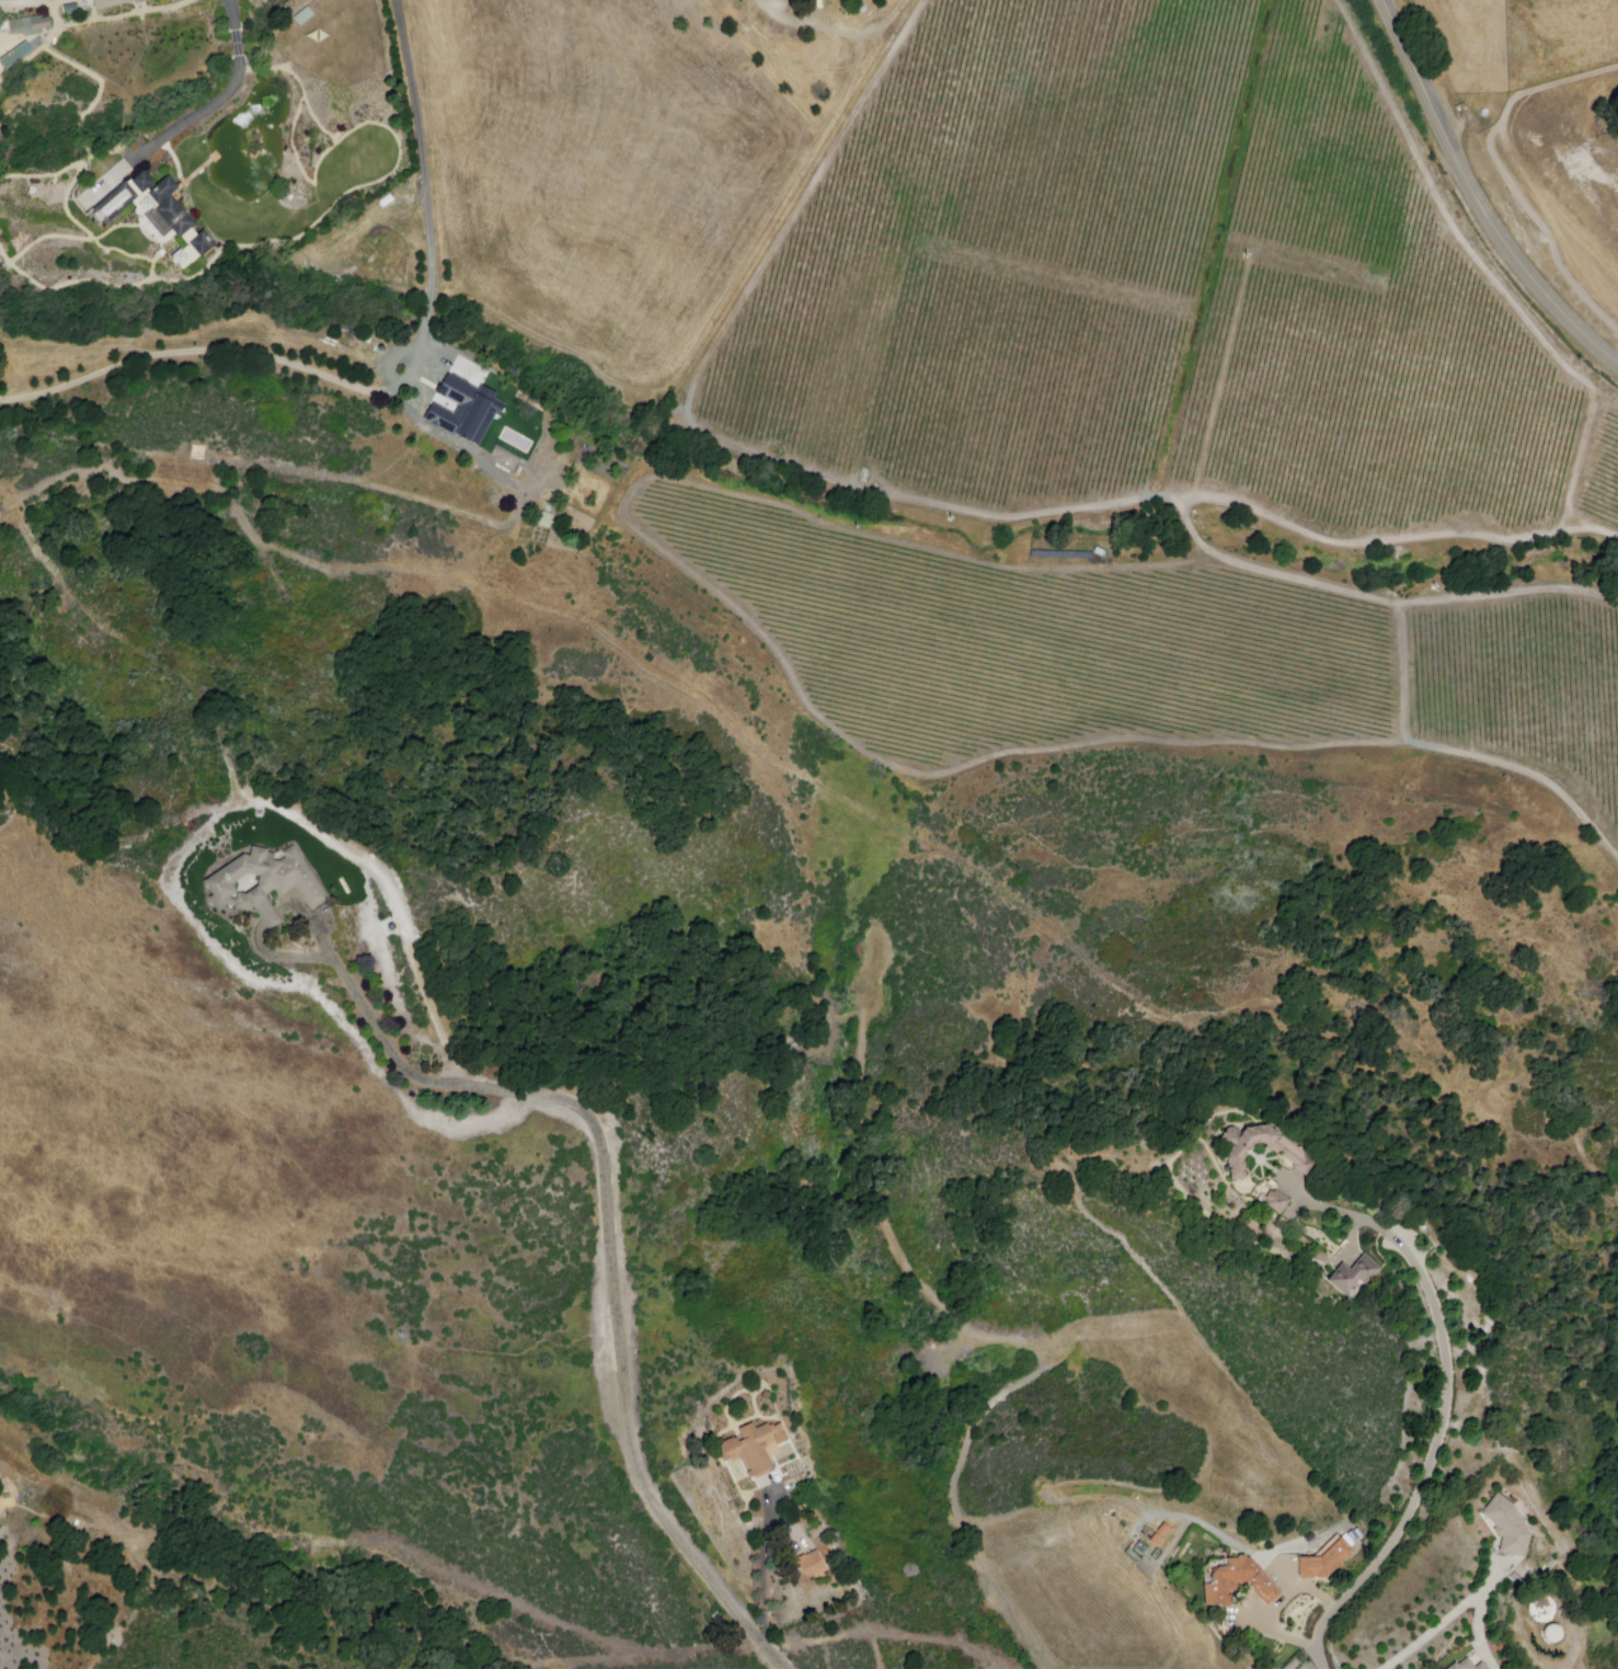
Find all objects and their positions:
building: (785, 0)
building: (788, 1)
building: (117, 4)
building: (70, 8)
road: (234, 14)
building: (28, 24)
road: (833, 28)
road: (239, 44)
building: (12, 58)
road: (202, 115)
pier: (214, 158)
road: (198, 170)
road: (1477, 195)
building: (161, 215)
building: (1083, 274)
road: (390, 388)
building: (463, 392)
building: (267, 883)
building: (1289, 1150)
building: (1273, 1199)
road: (609, 1209)
road: (1343, 1213)
road: (1355, 1236)
building: (1354, 1274)
building: (753, 1447)
road: (1428, 1471)
building: (1507, 1528)
building: (1160, 1536)
building: (1324, 1562)
building: (810, 1564)
building: (1235, 1584)
road: (762, 1588)
crop: (1088, 1598)
building: (1541, 1608)
storage tank: (1541, 1609)
road: (1276, 1610)
road: (1448, 1616)
storage tank: (1551, 1635)
building: (1468, 1666)

